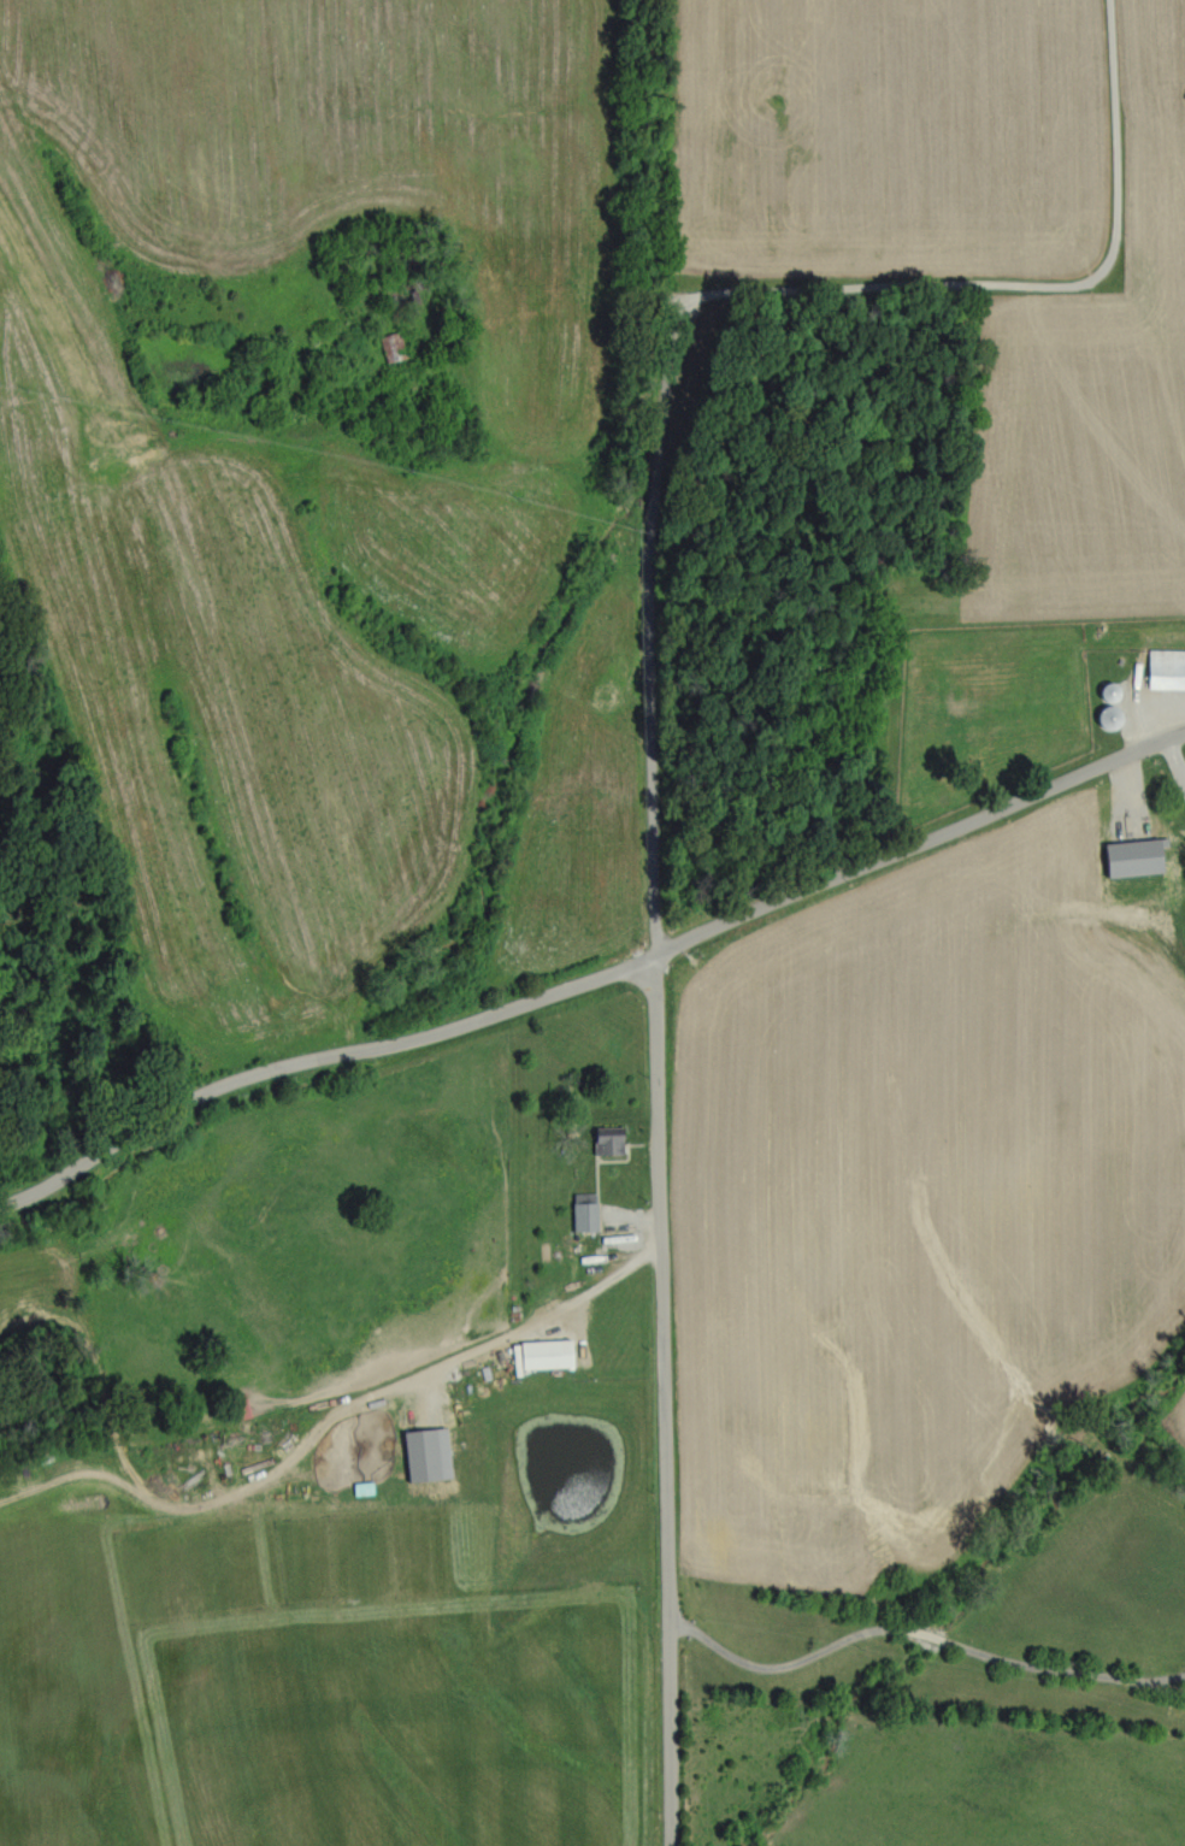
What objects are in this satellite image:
road: (695, 295)
building: (1163, 670)
building: (1130, 857)
road: (599, 978)
building: (602, 1139)
building: (579, 1215)
building: (537, 1353)
road: (668, 1402)
building: (235, 1405)
building: (419, 1453)
road: (926, 1624)

